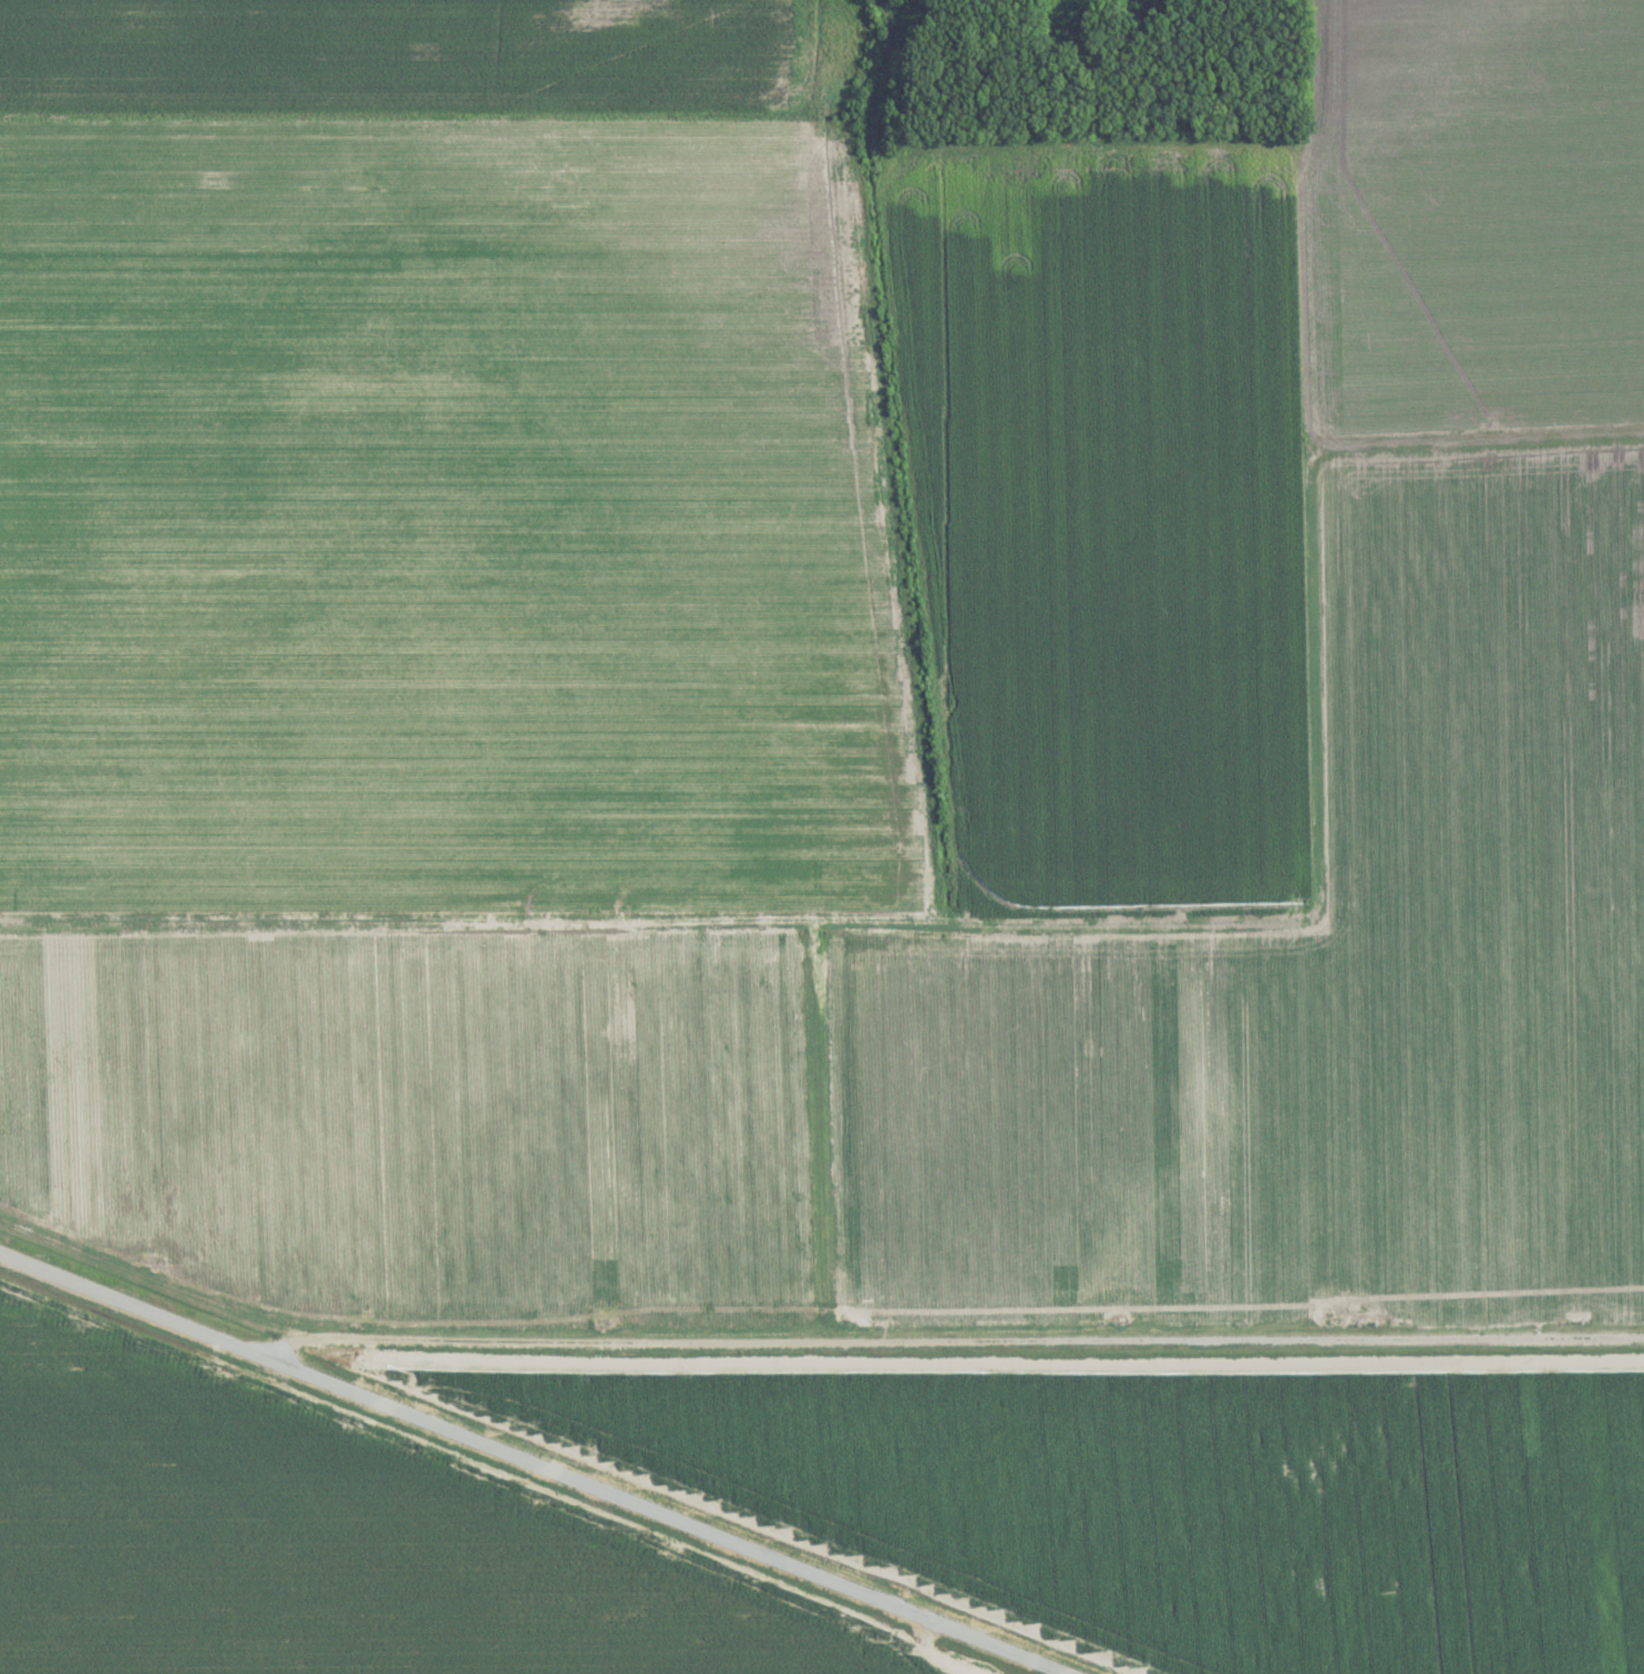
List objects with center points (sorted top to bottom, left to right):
road: (1042, 927)
road: (813, 1129)
road: (123, 1301)
road: (943, 1337)
road: (598, 1493)
road: (1005, 1653)

